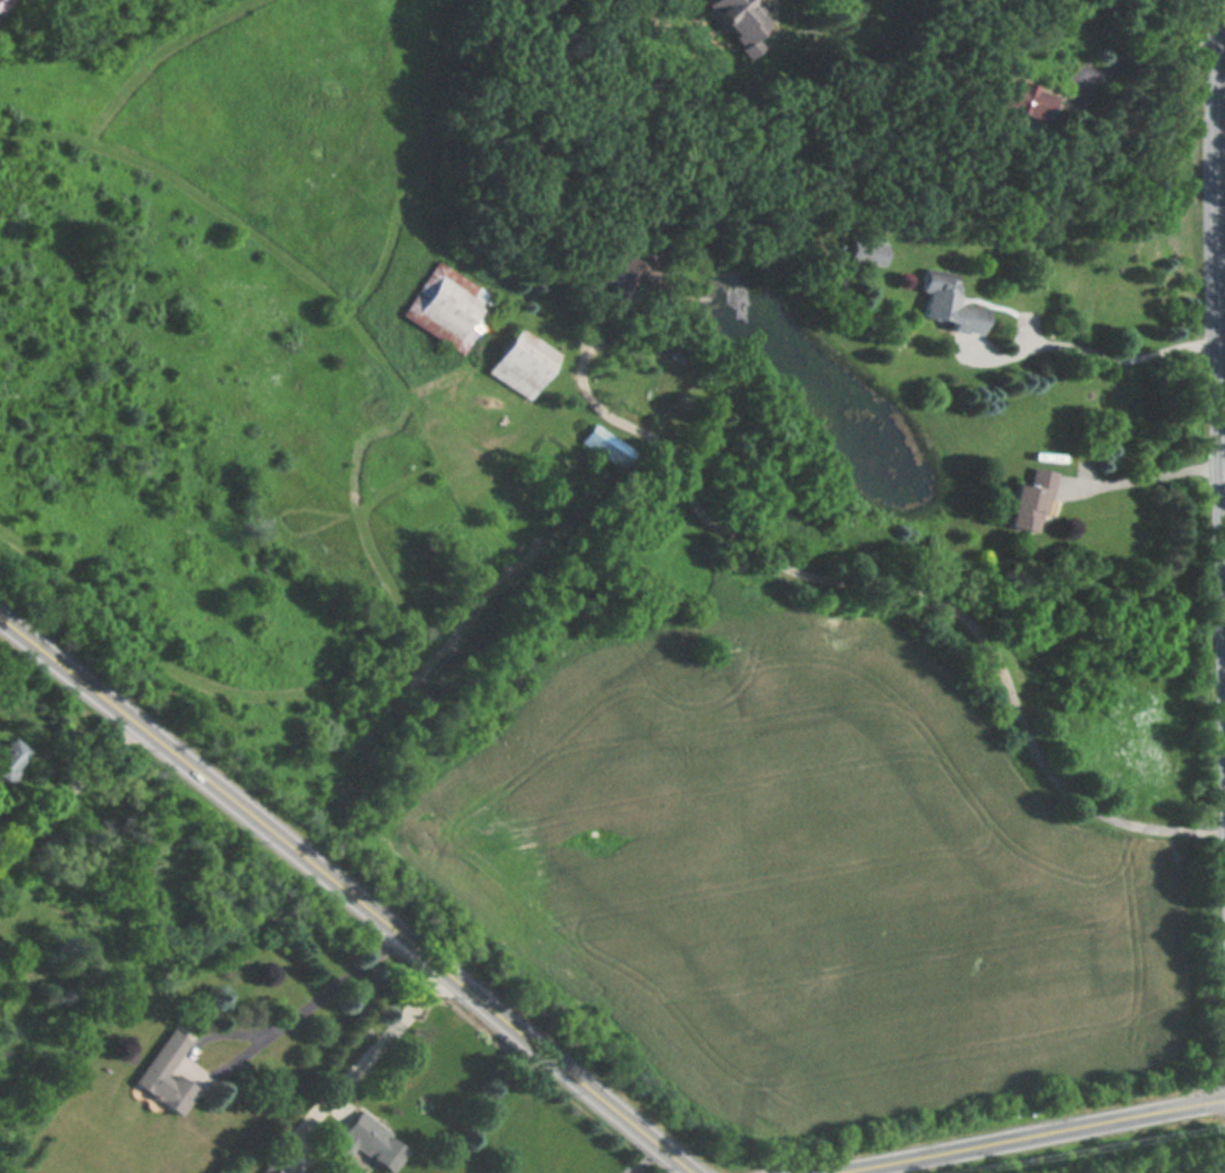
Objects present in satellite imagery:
building: (62, 0)
building: (2, 6)
building: (737, 17)
road: (1138, 47)
road: (1221, 81)
road: (1221, 268)
building: (945, 301)
building: (448, 307)
road: (1224, 346)
road: (1111, 359)
building: (522, 364)
building: (603, 444)
road: (1151, 480)
road: (923, 596)
building: (8, 755)
road: (75, 790)
road: (348, 894)
road: (335, 991)
road: (392, 1036)
building: (166, 1072)
road: (1033, 1137)
building: (368, 1144)
road: (645, 1157)

